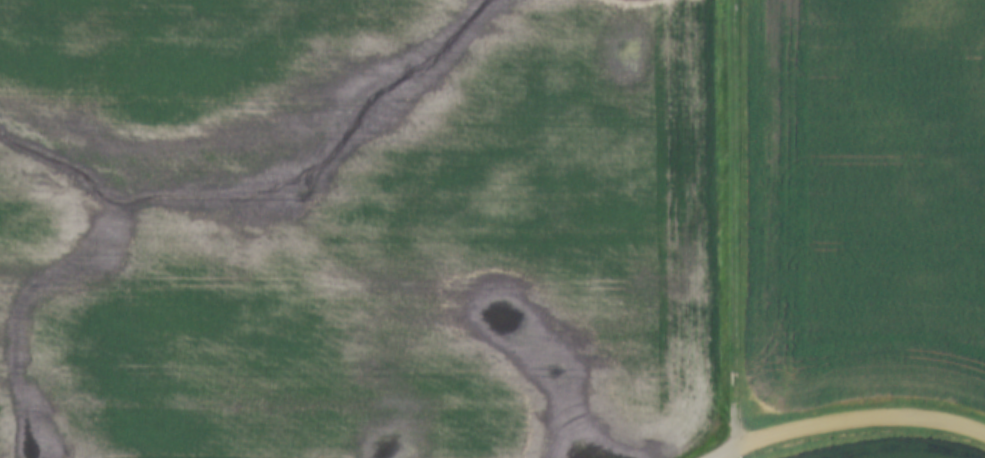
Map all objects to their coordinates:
road: (783, 218)
road: (860, 423)

